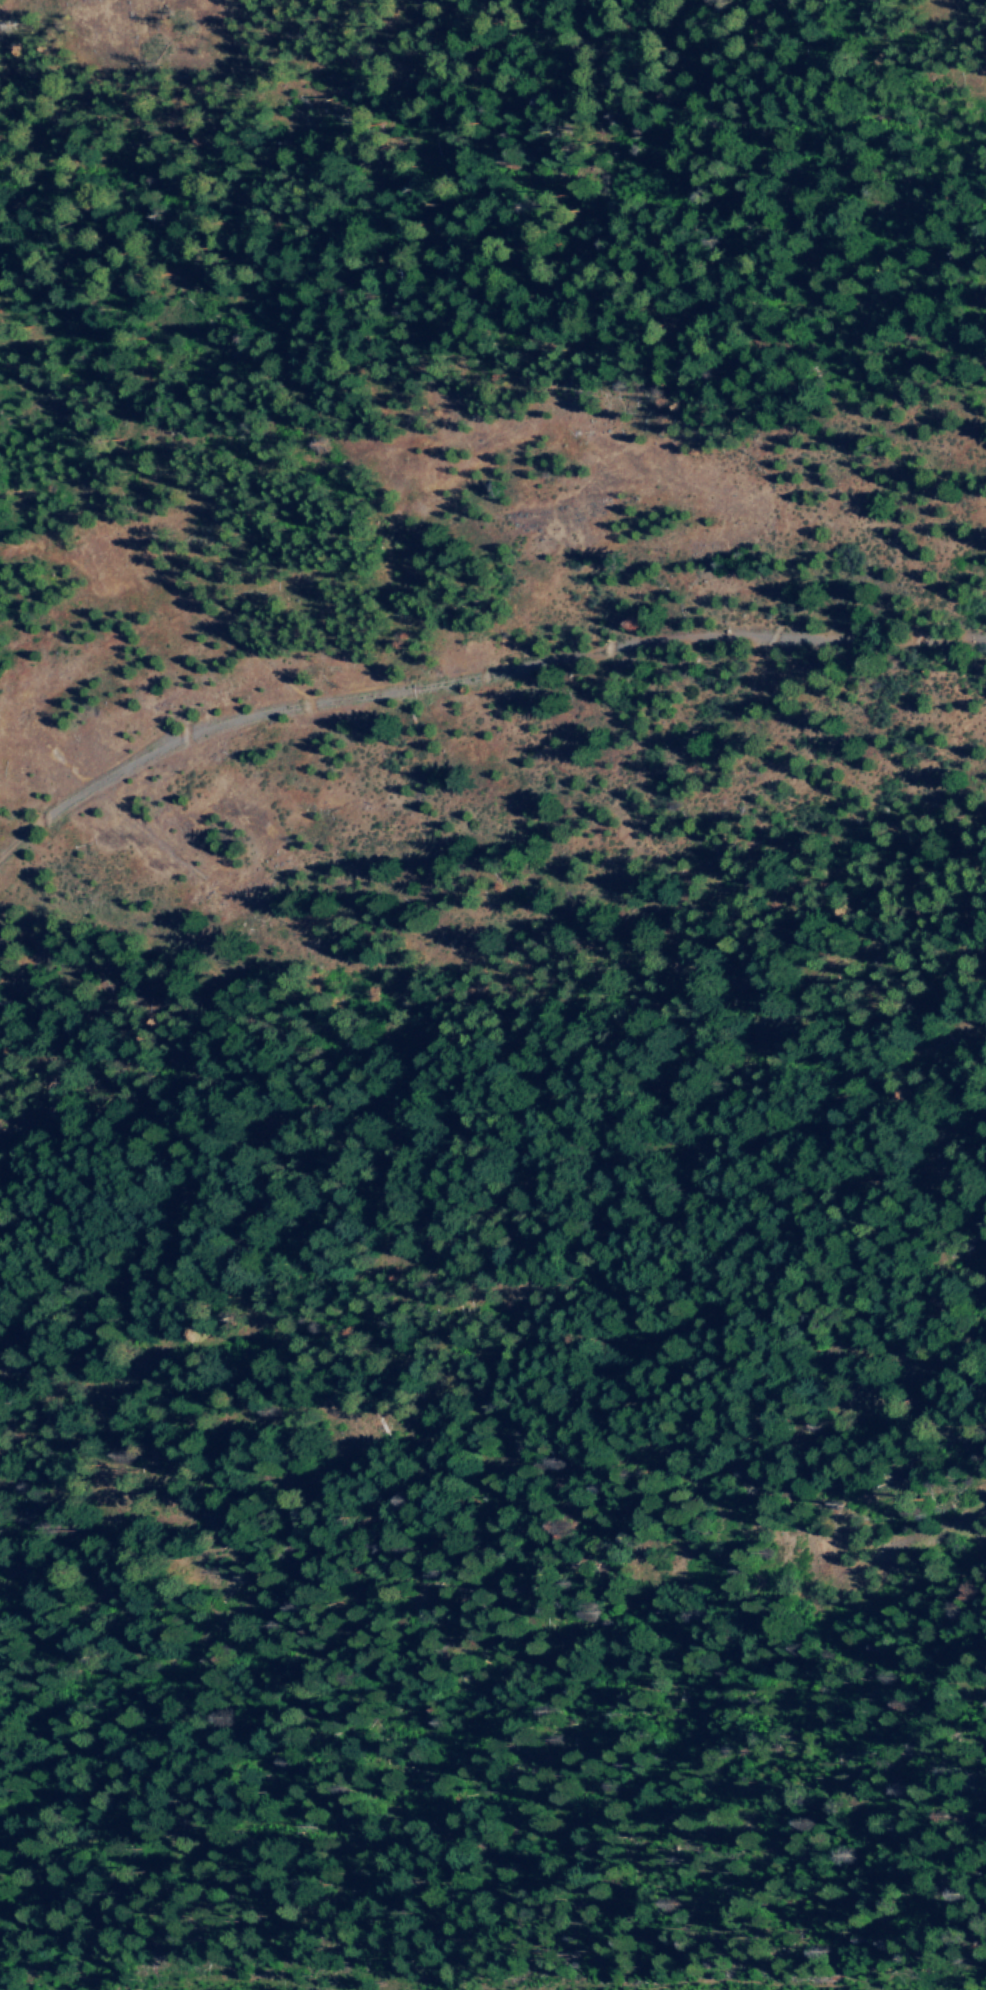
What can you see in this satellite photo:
road: (472, 679)
road: (934, 1530)

